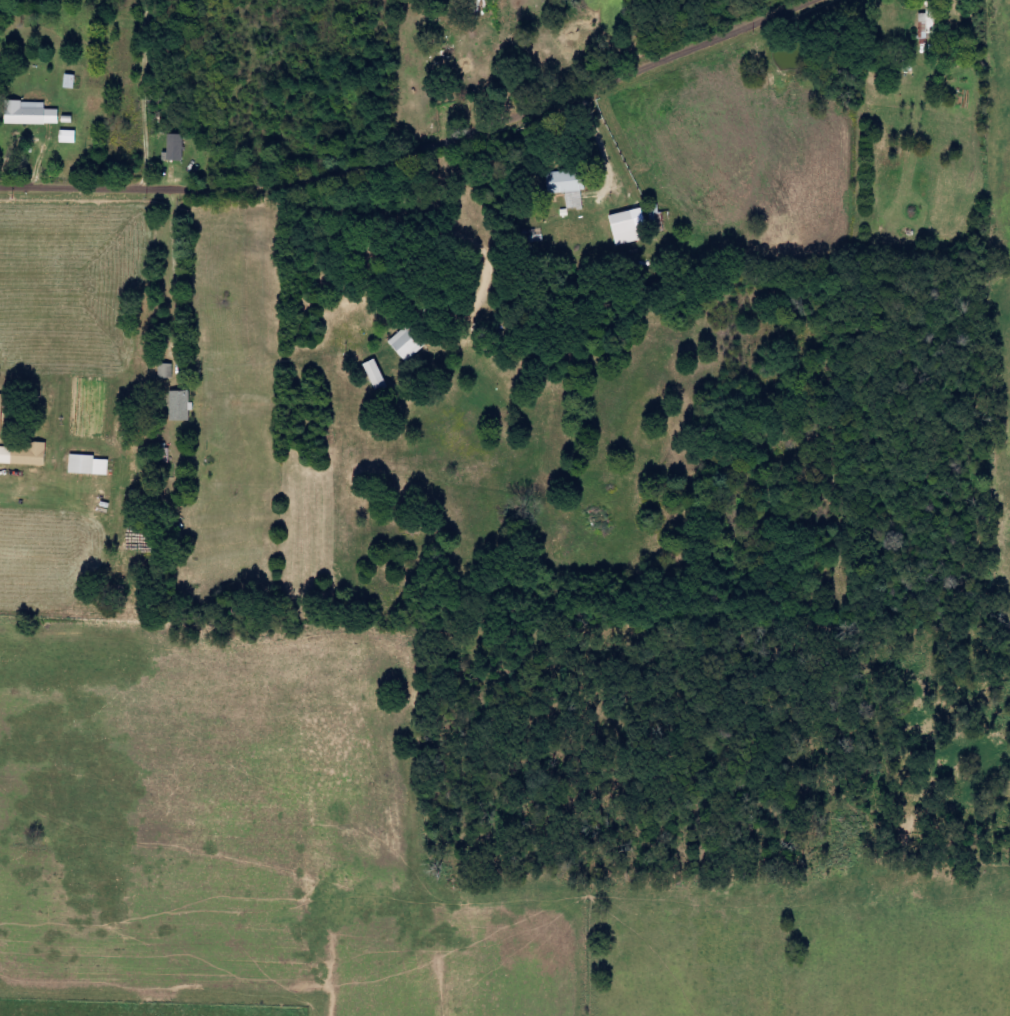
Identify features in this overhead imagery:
road: (419, 74)
building: (71, 81)
building: (31, 113)
building: (69, 136)
building: (176, 146)
road: (423, 153)
building: (569, 186)
building: (625, 227)
building: (408, 344)
building: (167, 370)
building: (375, 374)
building: (181, 405)
building: (1, 415)
building: (25, 454)
building: (89, 465)
road: (145, 740)

